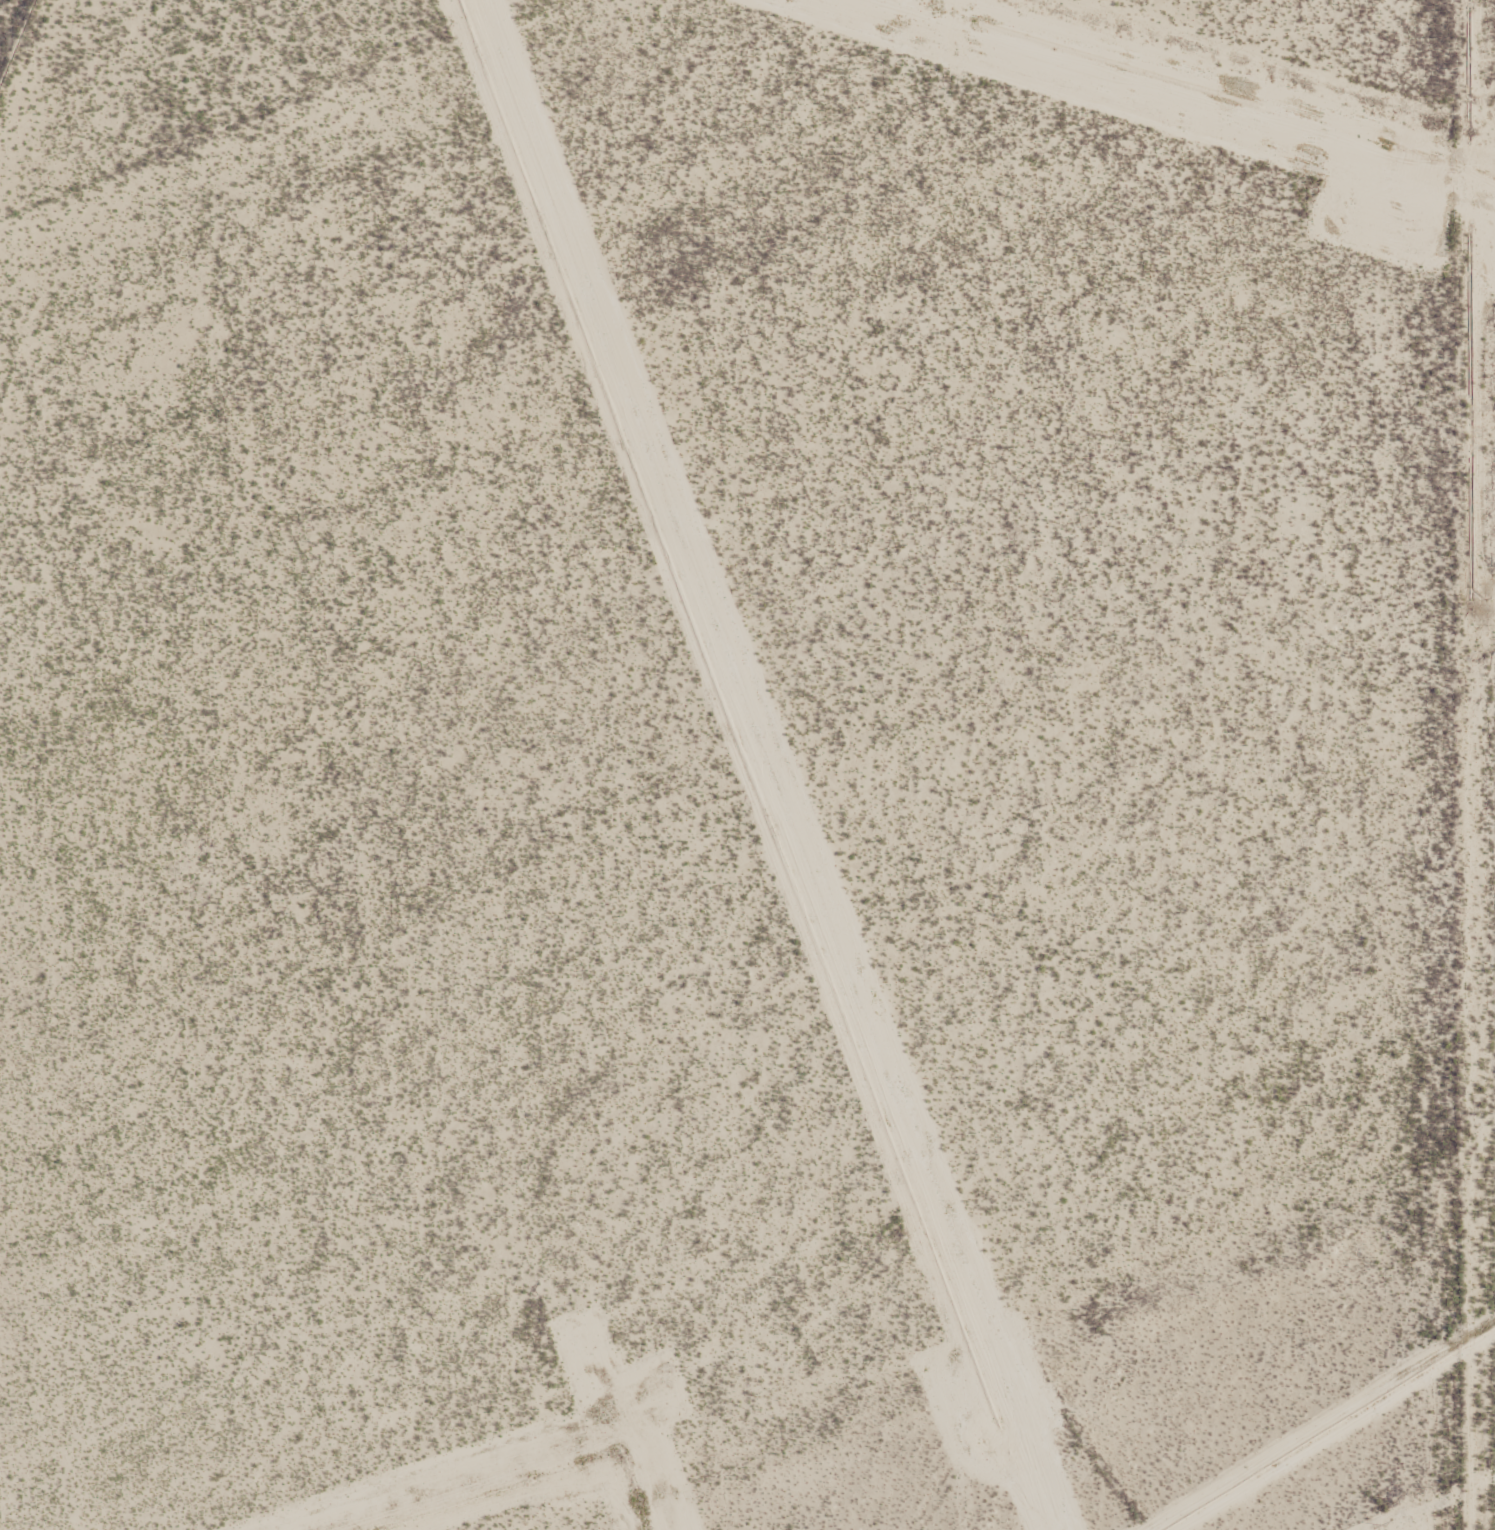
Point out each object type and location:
road: (1416, 765)

